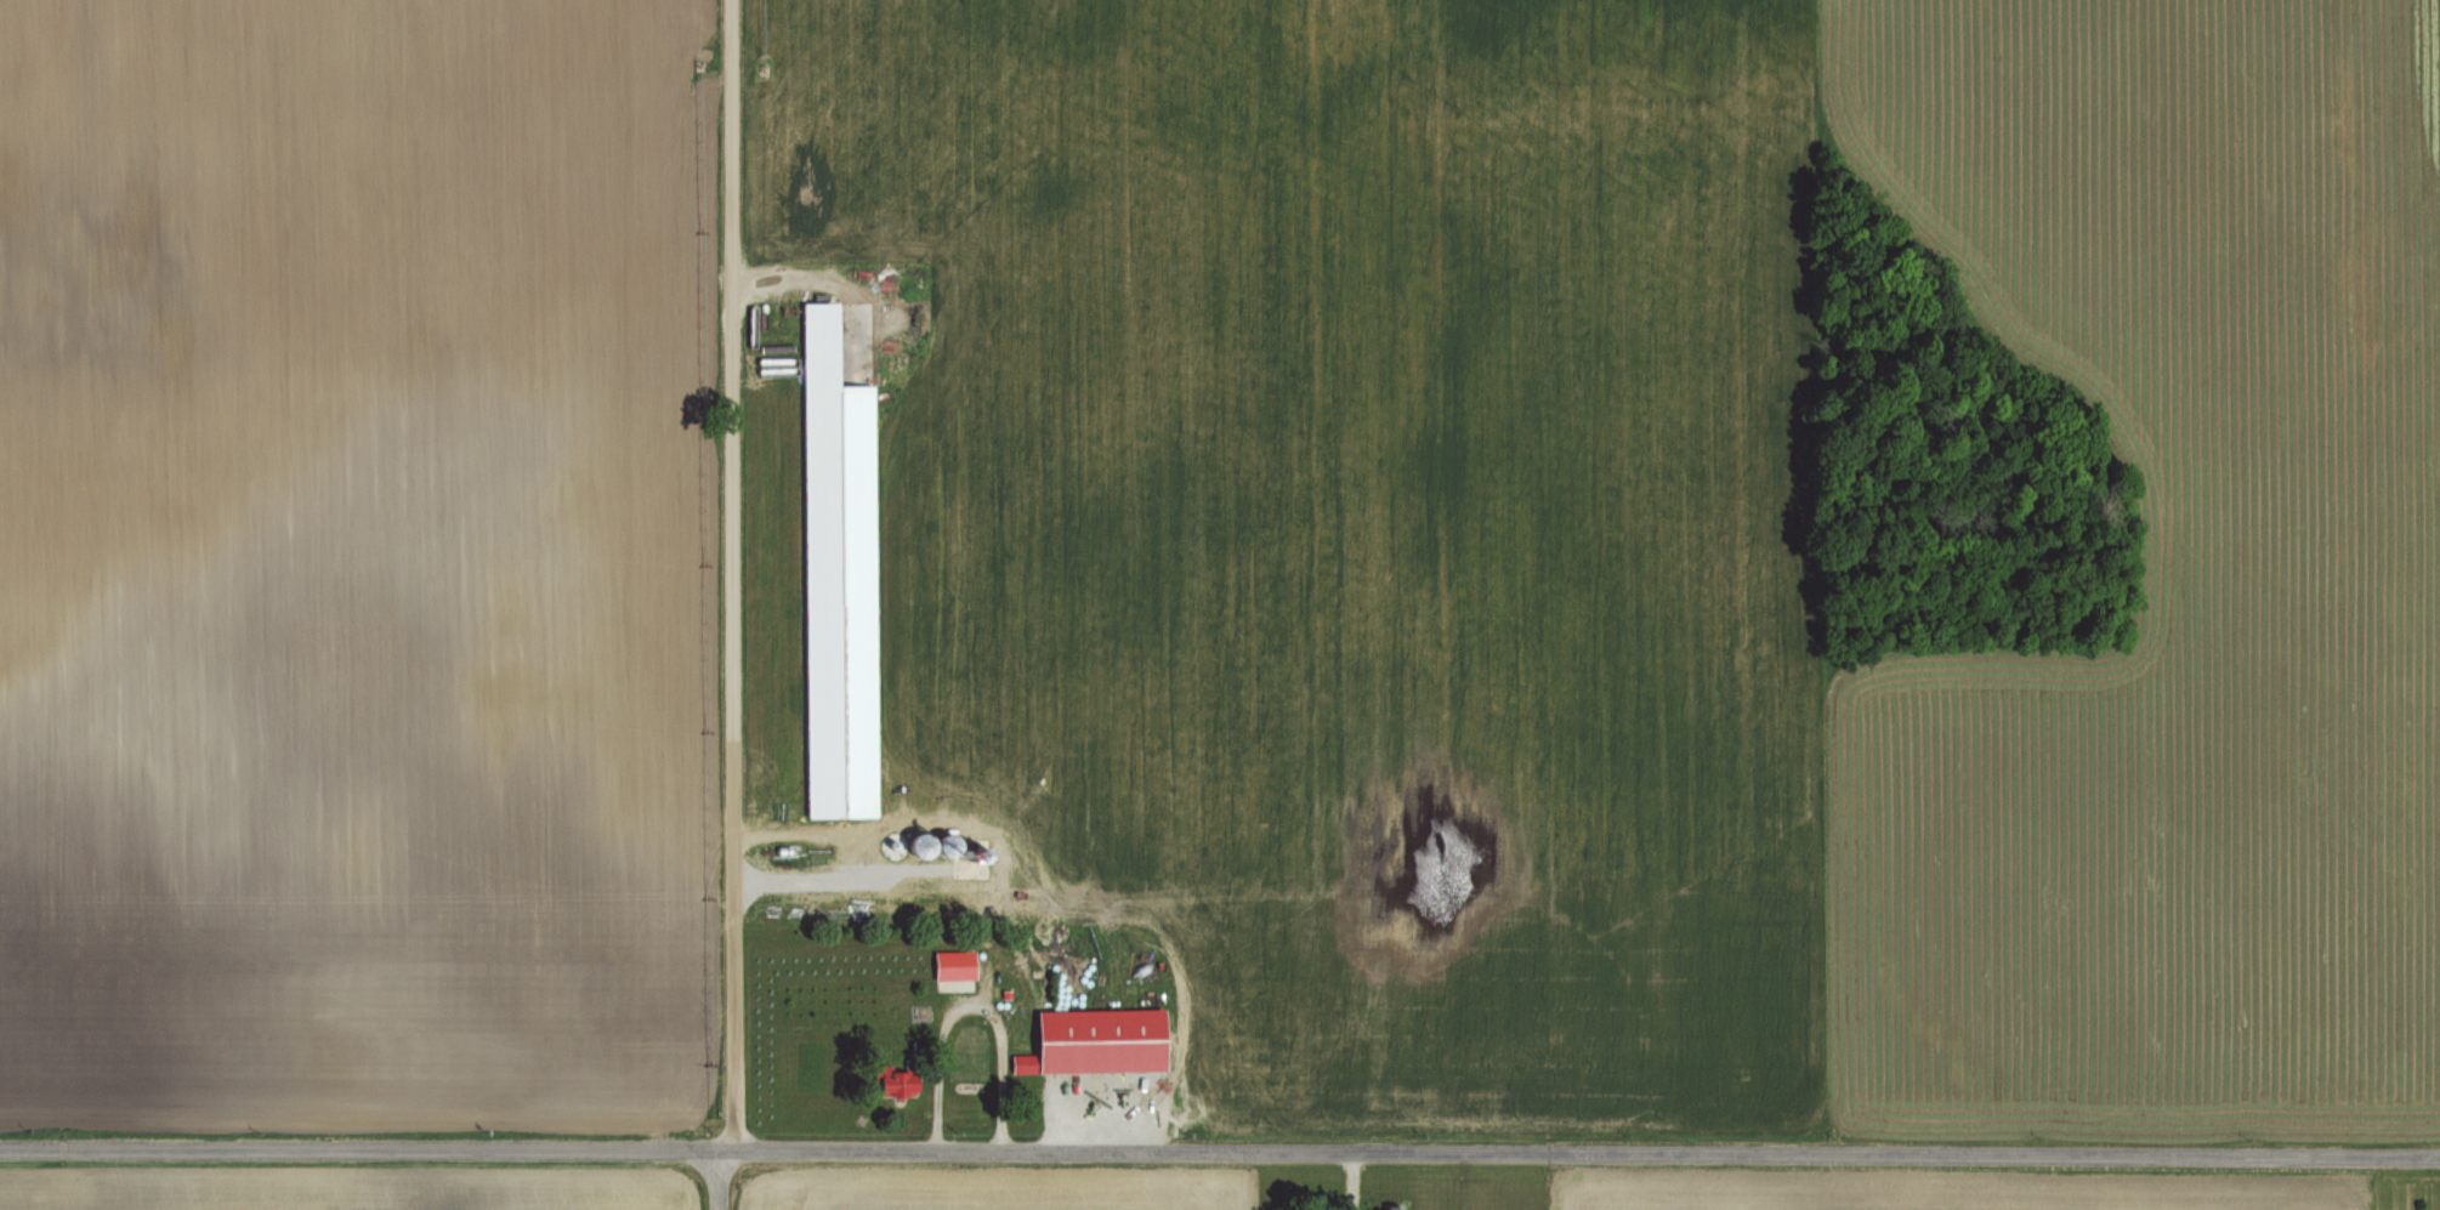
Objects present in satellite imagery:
building: (66, 222)
building: (1, 242)
building: (161, 325)
road: (63, 359)
road: (726, 575)
building: (844, 575)
building: (958, 965)
road: (964, 1011)
building: (1102, 1041)
building: (902, 1081)
road: (1219, 1151)
road: (714, 1180)
building: (1388, 1208)

